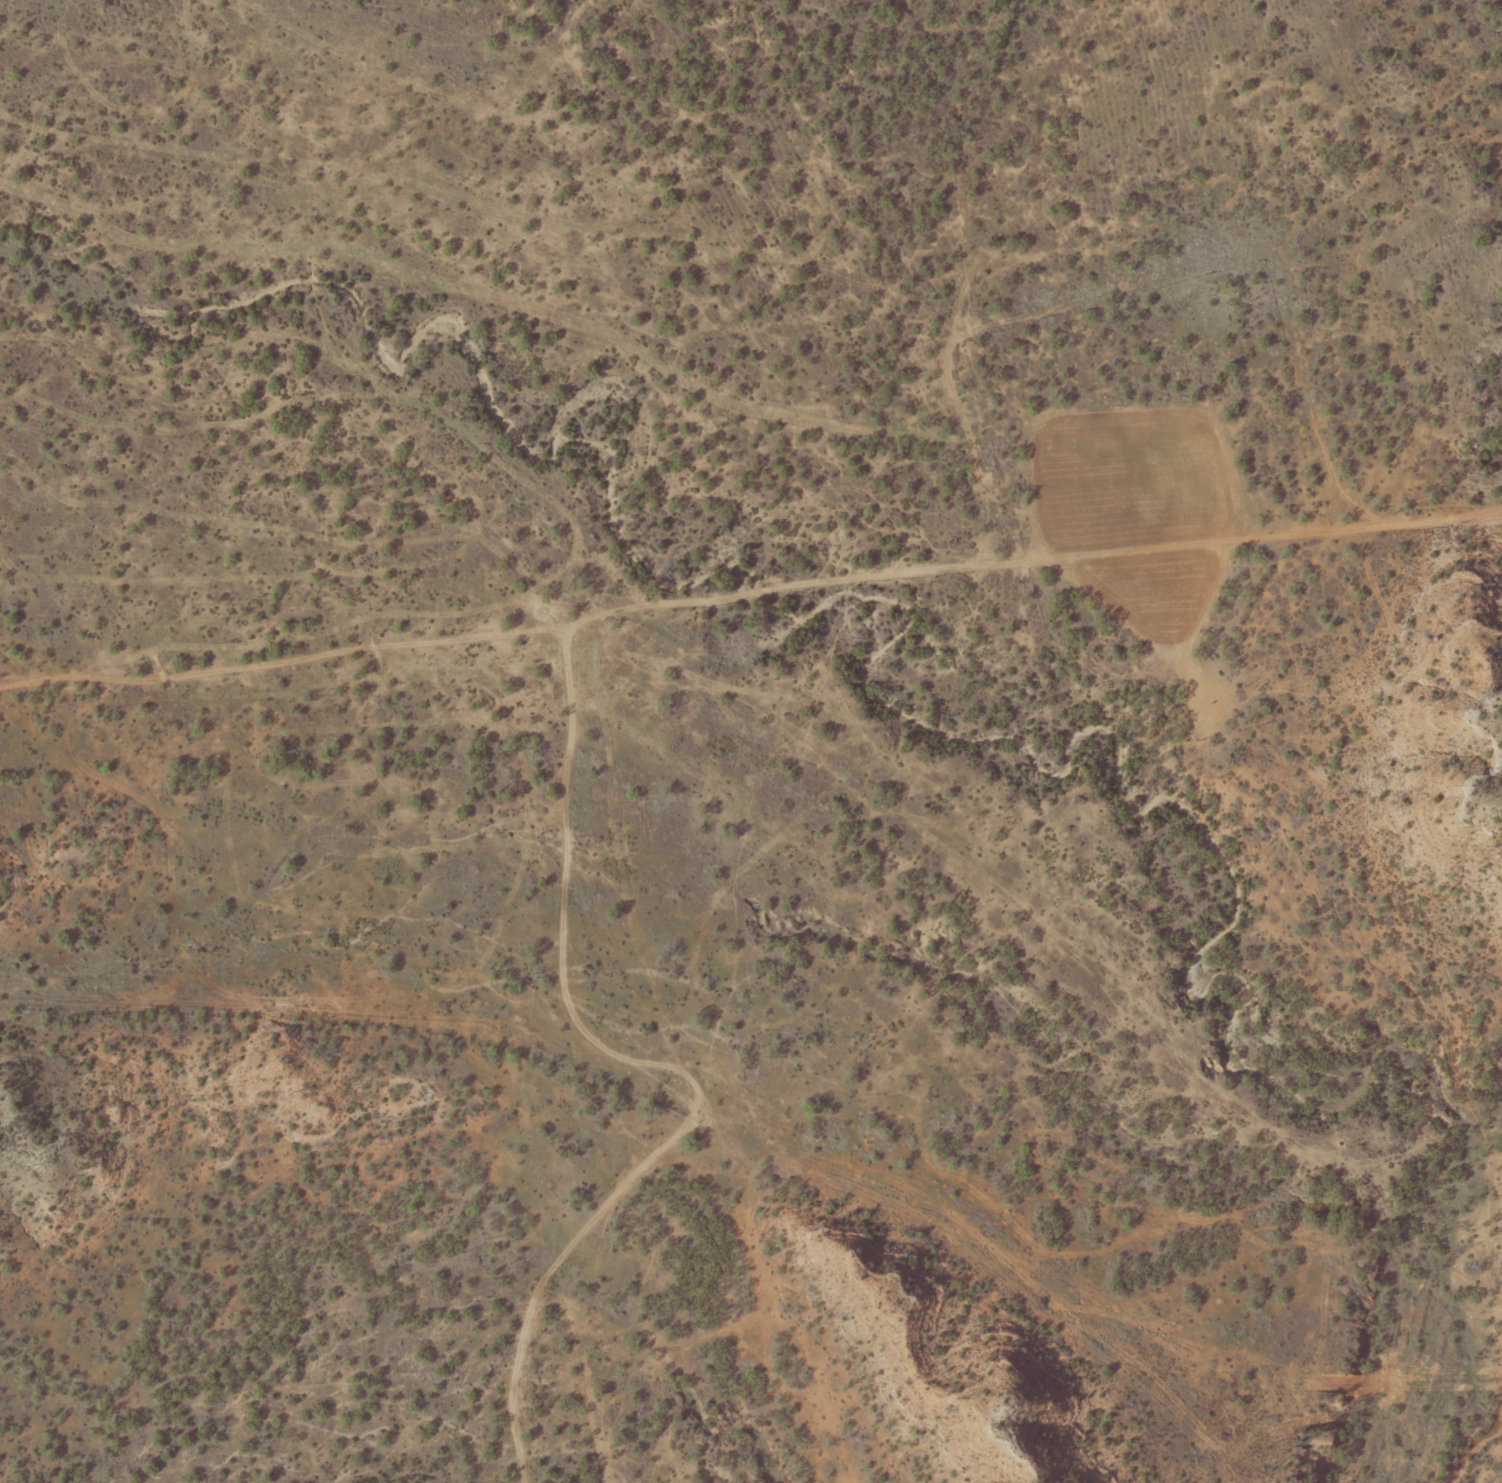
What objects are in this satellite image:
road: (1485, 17)

